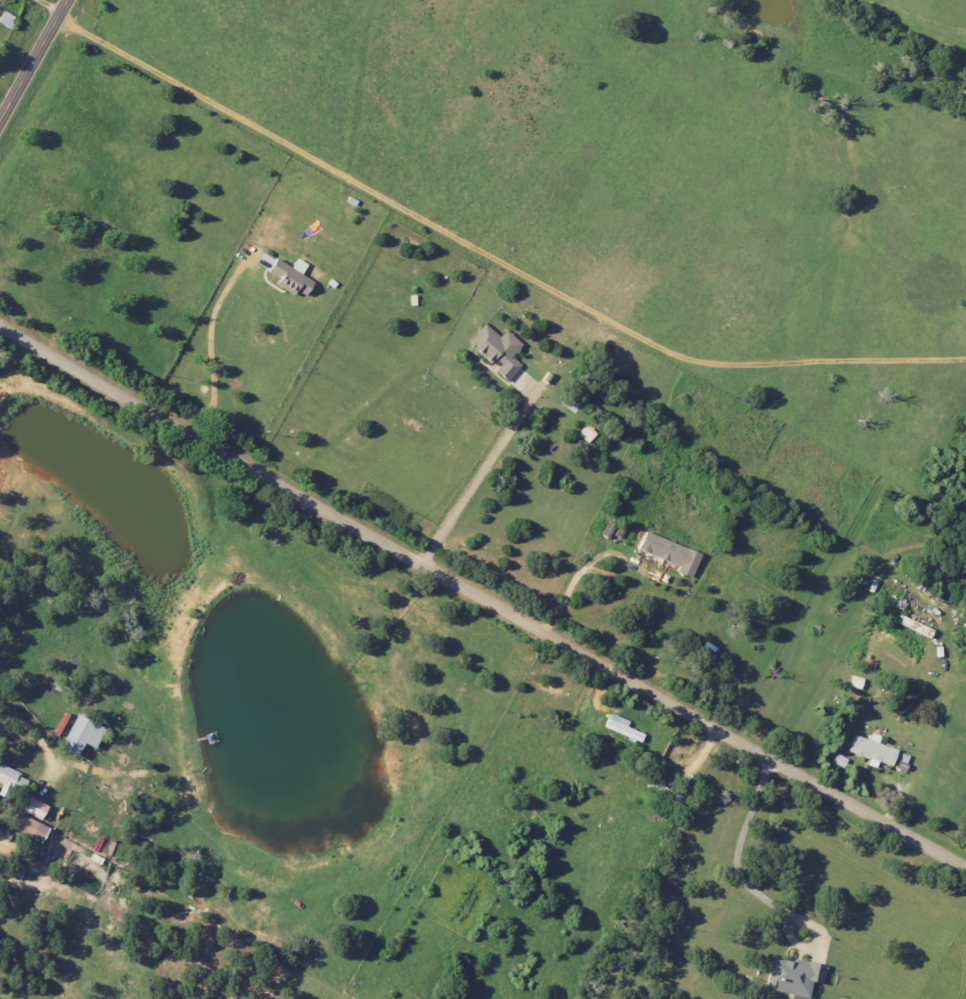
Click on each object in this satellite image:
building: (6, 19)
road: (32, 58)
road: (493, 256)
building: (289, 275)
road: (206, 337)
building: (496, 349)
building: (586, 433)
road: (475, 472)
building: (669, 552)
road: (574, 580)
road: (481, 598)
building: (914, 626)
building: (855, 681)
building: (621, 727)
building: (81, 734)
building: (871, 749)
building: (839, 761)
building: (7, 780)
building: (33, 807)
building: (27, 826)
road: (52, 865)
road: (748, 890)
building: (792, 975)

